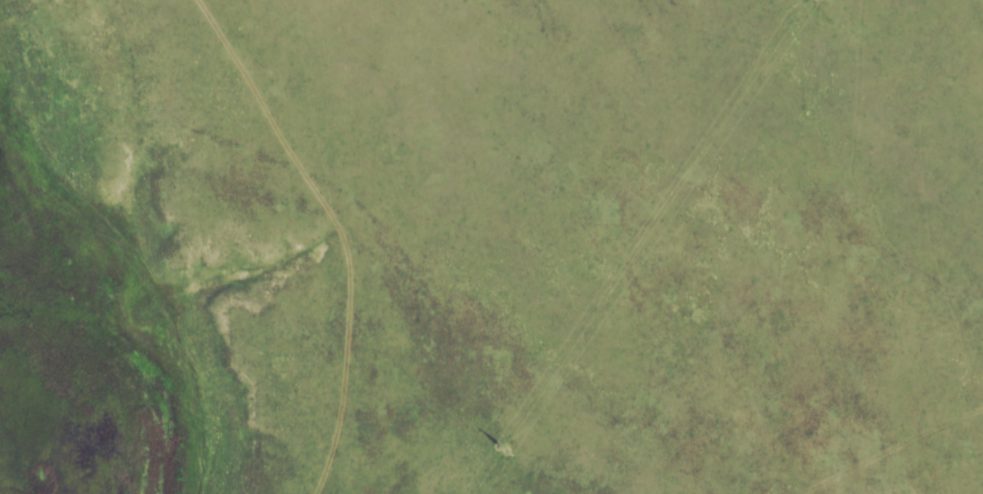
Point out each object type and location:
power tower: (501, 448)

